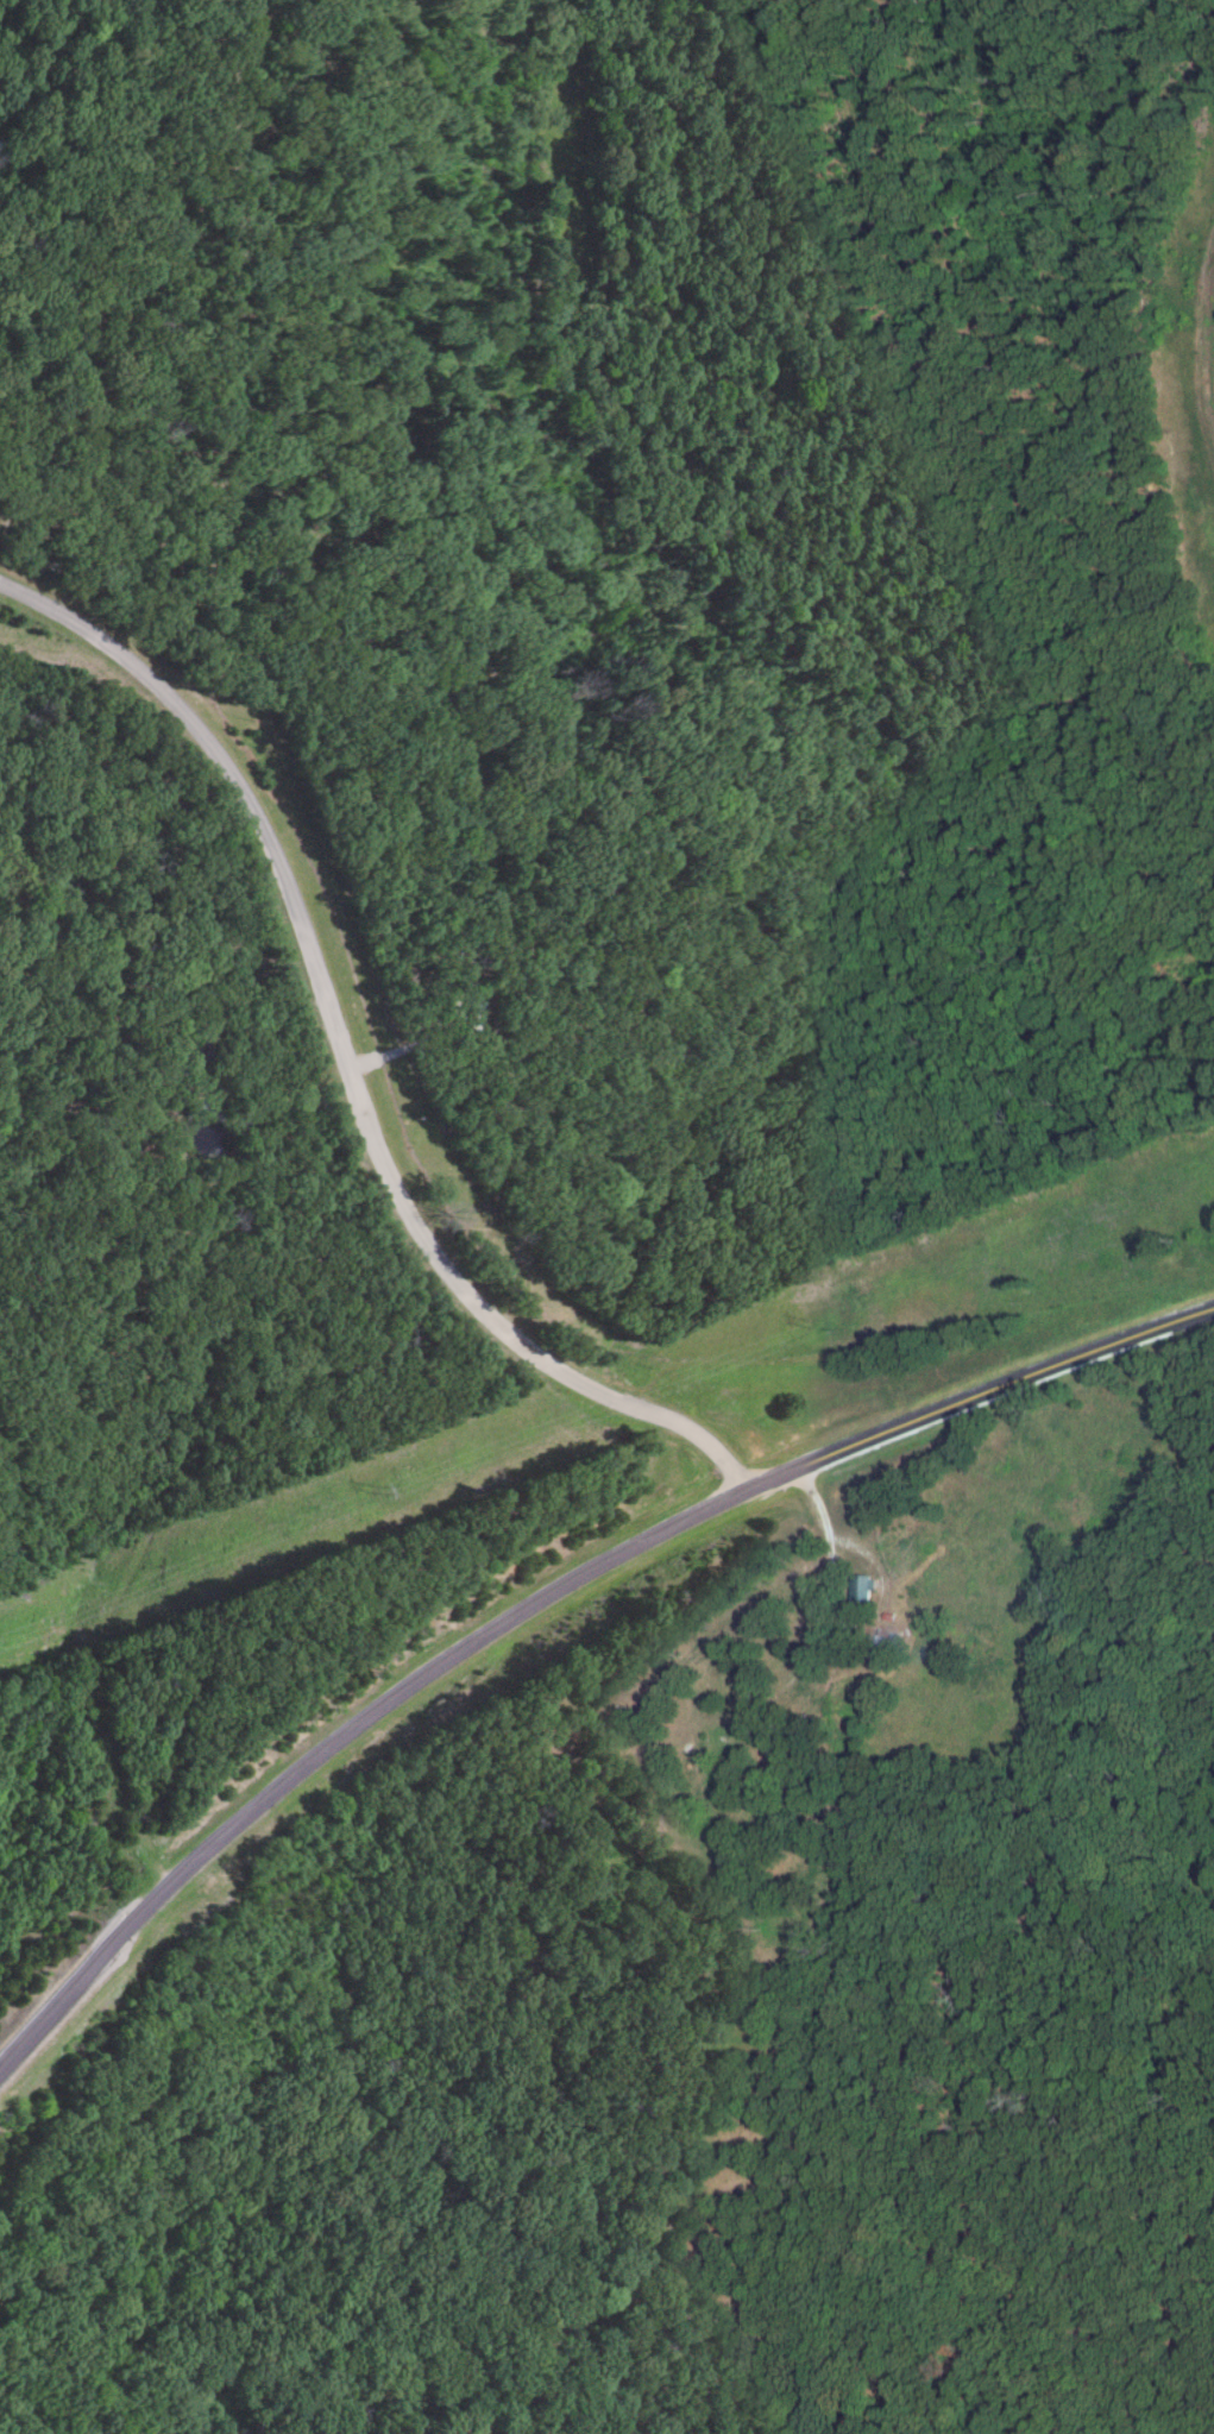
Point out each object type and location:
road: (952, 54)
road: (344, 1062)
power tower: (804, 1326)
power tower: (377, 1492)
building: (863, 1587)
road: (556, 1592)
road: (875, 1604)
road: (806, 1669)
road: (724, 1785)

